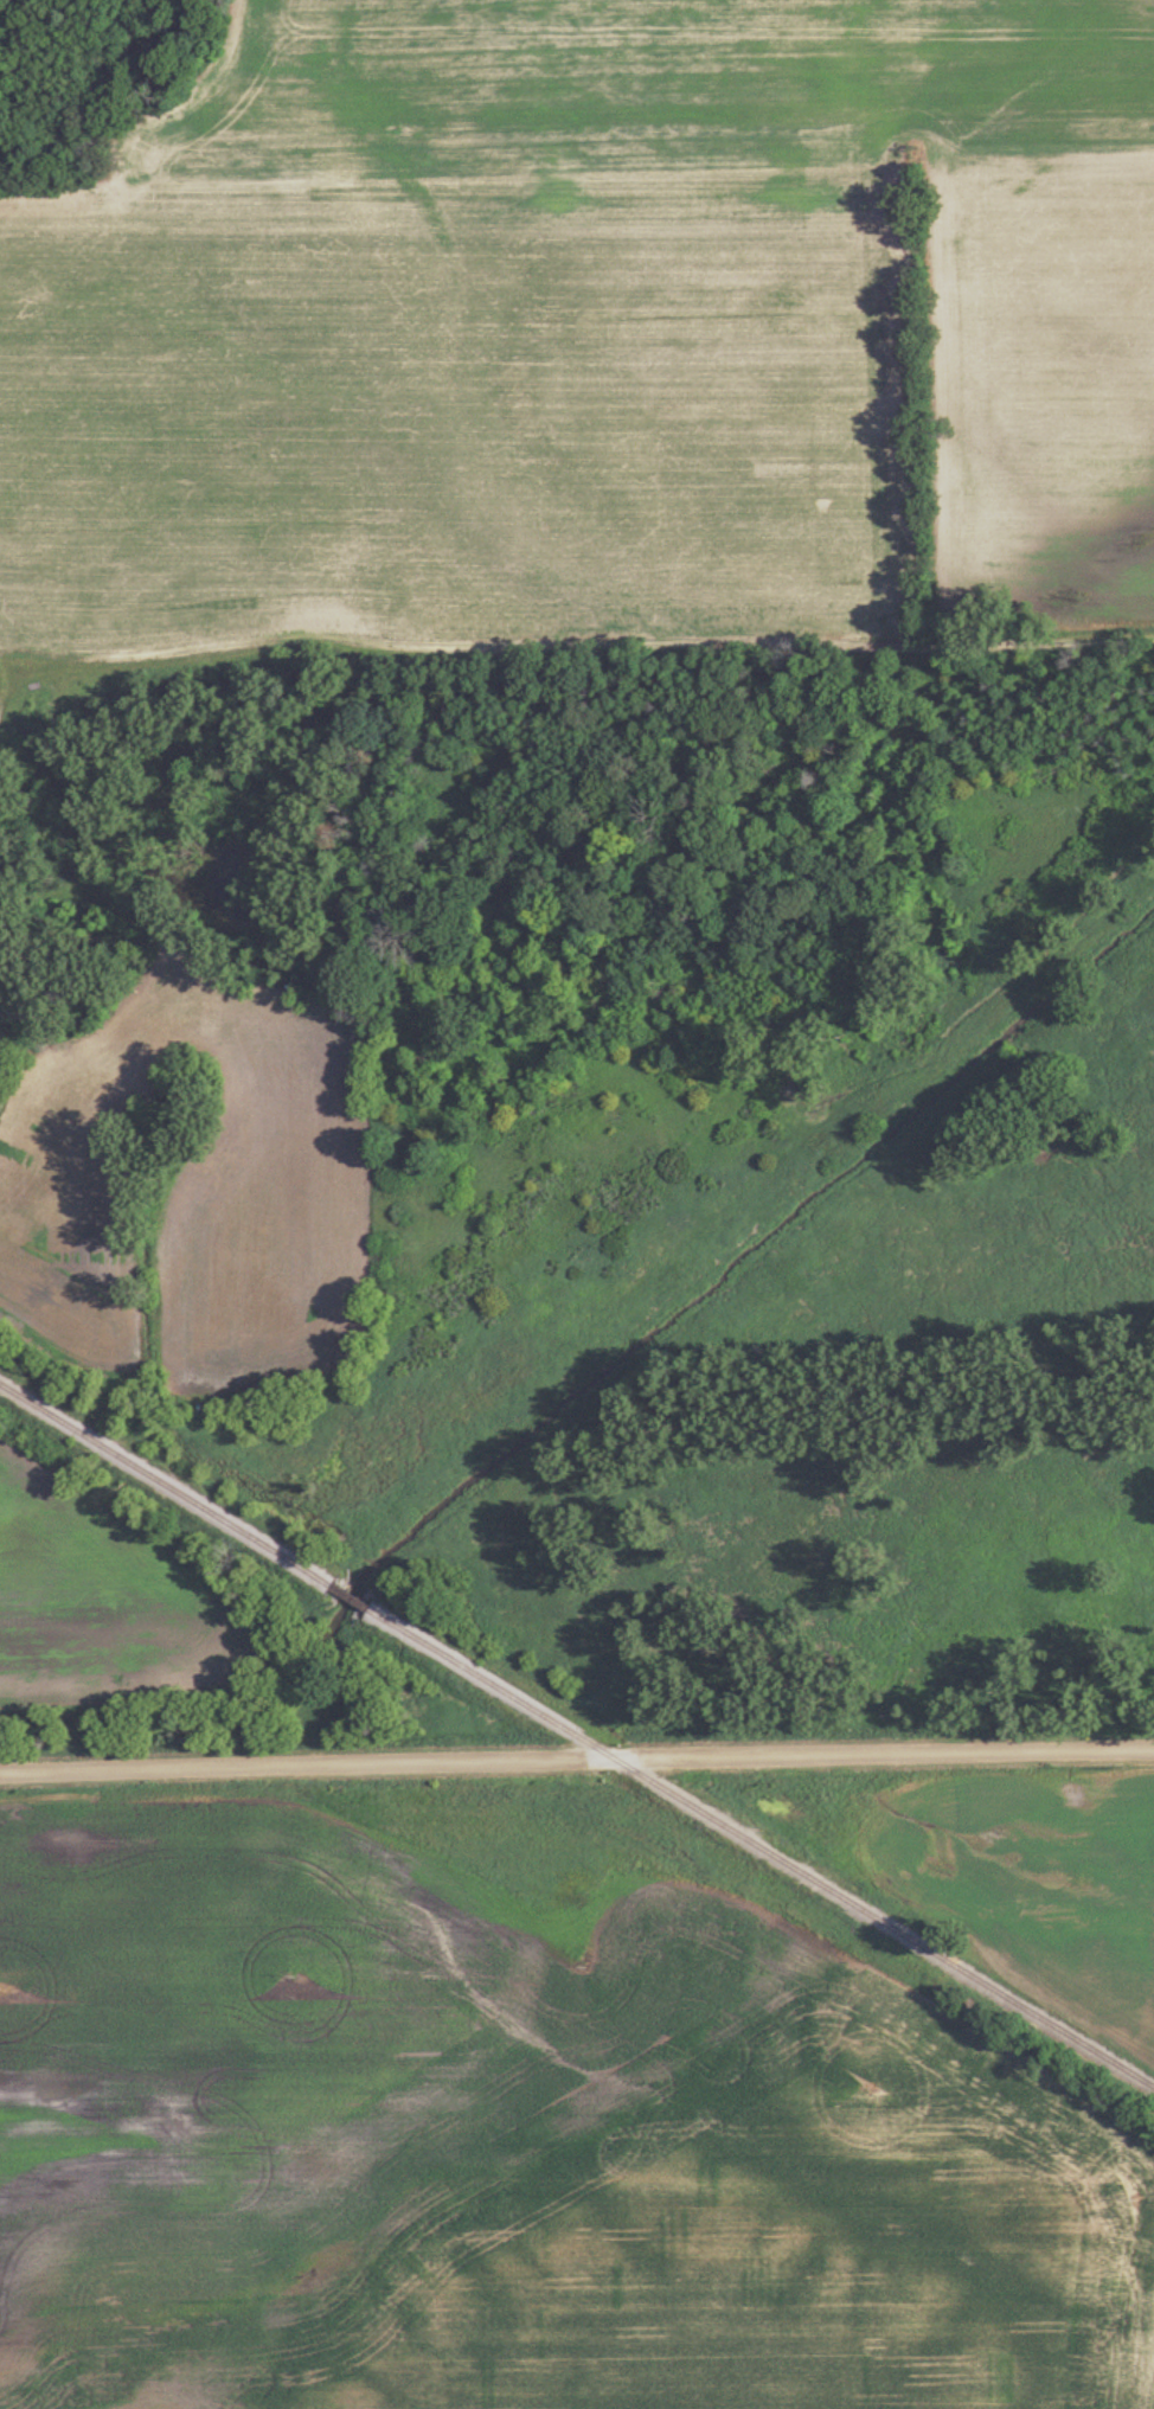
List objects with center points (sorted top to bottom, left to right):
road: (562, 666)
road: (64, 896)
railway: (167, 1484)
railway: (353, 1597)
road: (576, 1762)
railway: (762, 1849)

